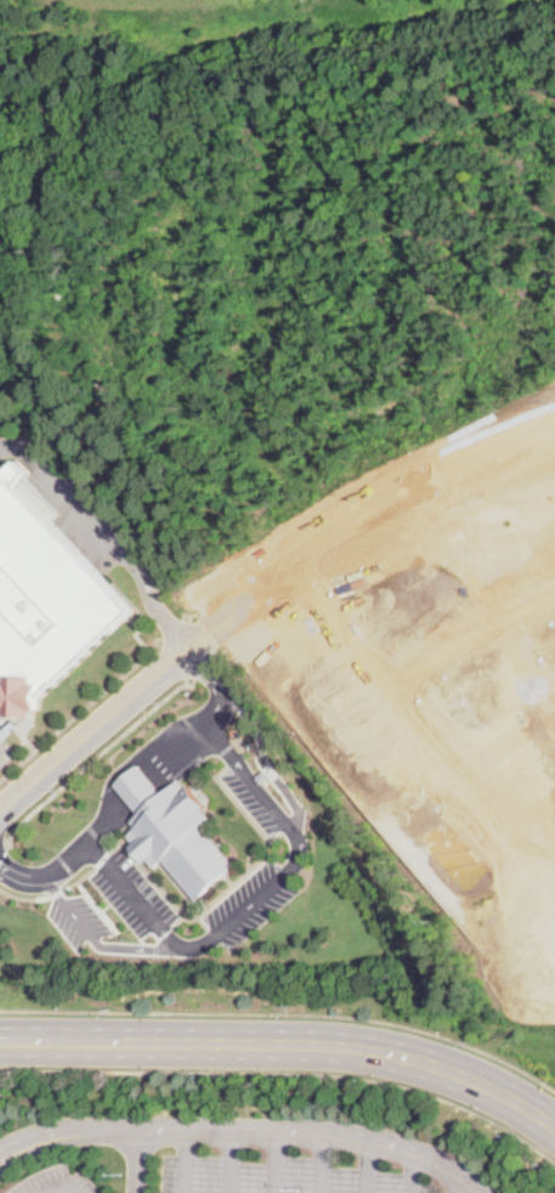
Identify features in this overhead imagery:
road: (361, 514)
road: (109, 526)
building: (45, 598)
road: (466, 637)
road: (216, 684)
road: (80, 707)
road: (418, 724)
road: (95, 726)
parking lot: (0, 737)
road: (92, 757)
road: (264, 758)
road: (151, 782)
parking lot: (256, 797)
building: (175, 829)
road: (1, 843)
road: (50, 870)
road: (50, 893)
road: (254, 900)
parking lot: (253, 903)
parking lot: (75, 918)
road: (95, 942)
road: (284, 1012)
road: (285, 1042)
road: (288, 1070)
road: (243, 1132)
road: (135, 1163)
road: (183, 1163)
road: (227, 1163)
road: (274, 1163)
road: (324, 1165)
road: (368, 1167)
road: (149, 1172)
road: (410, 1174)
parking lot: (281, 1176)
parking lot: (56, 1181)
road: (57, 1184)
road: (472, 1191)

